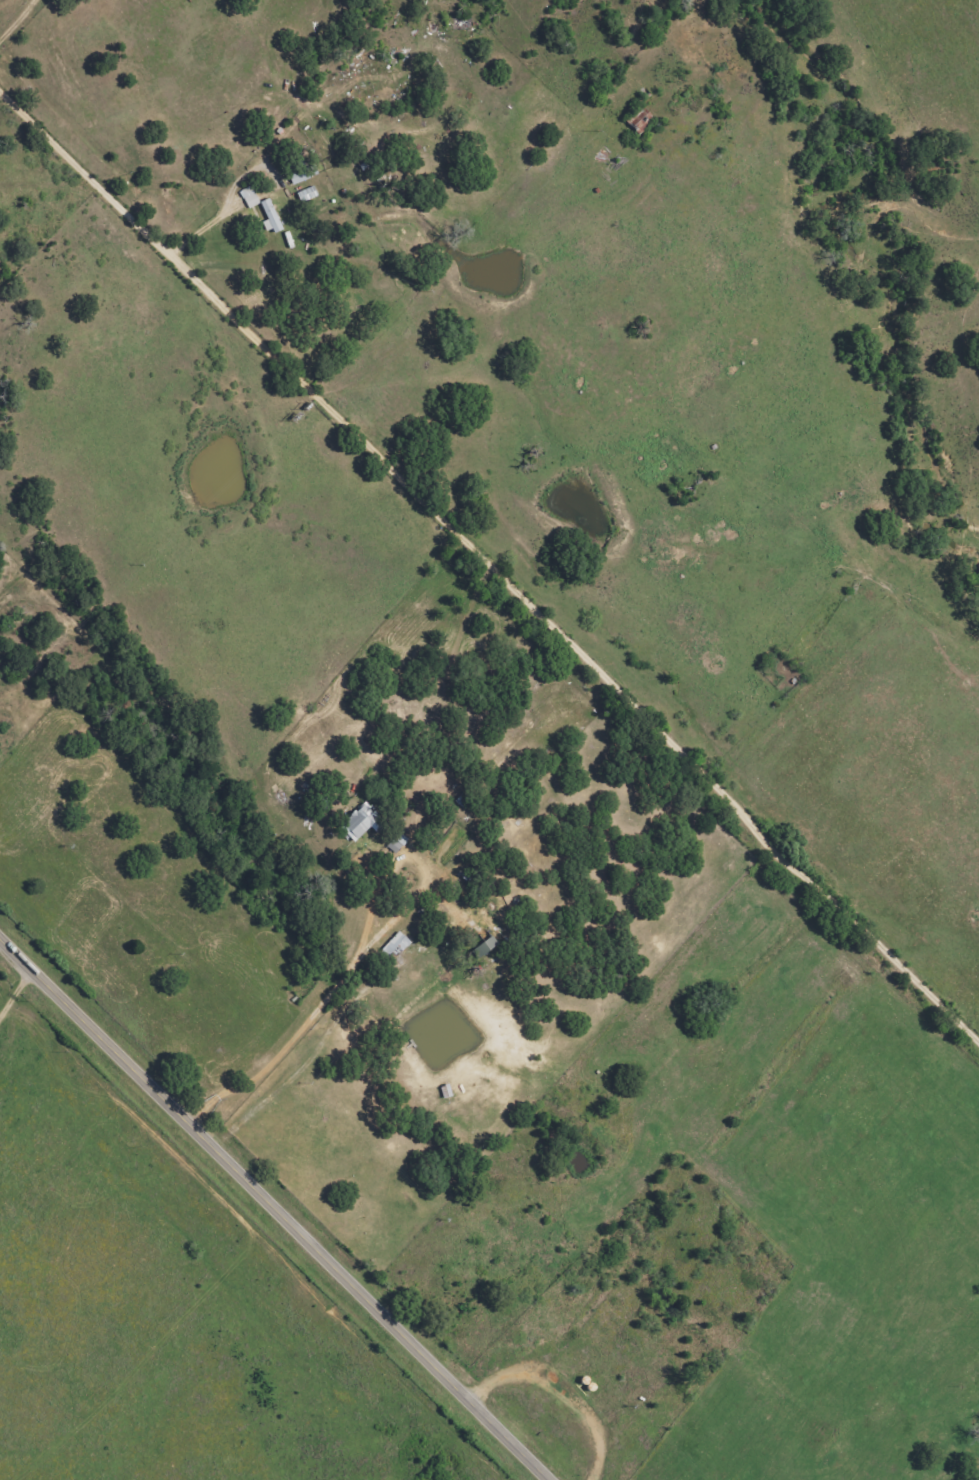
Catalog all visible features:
road: (18, 21)
building: (302, 173)
building: (248, 196)
building: (269, 216)
road: (490, 568)
building: (359, 823)
building: (395, 842)
building: (394, 945)
building: (483, 946)
road: (274, 1211)
road: (501, 1459)

